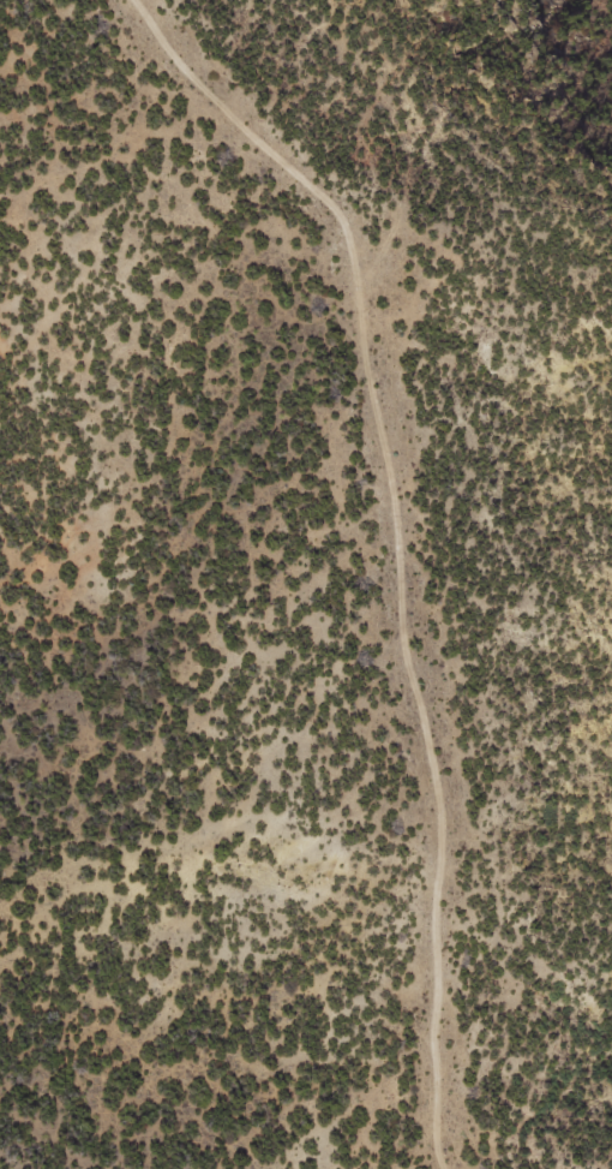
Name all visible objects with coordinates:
road: (402, 547)

